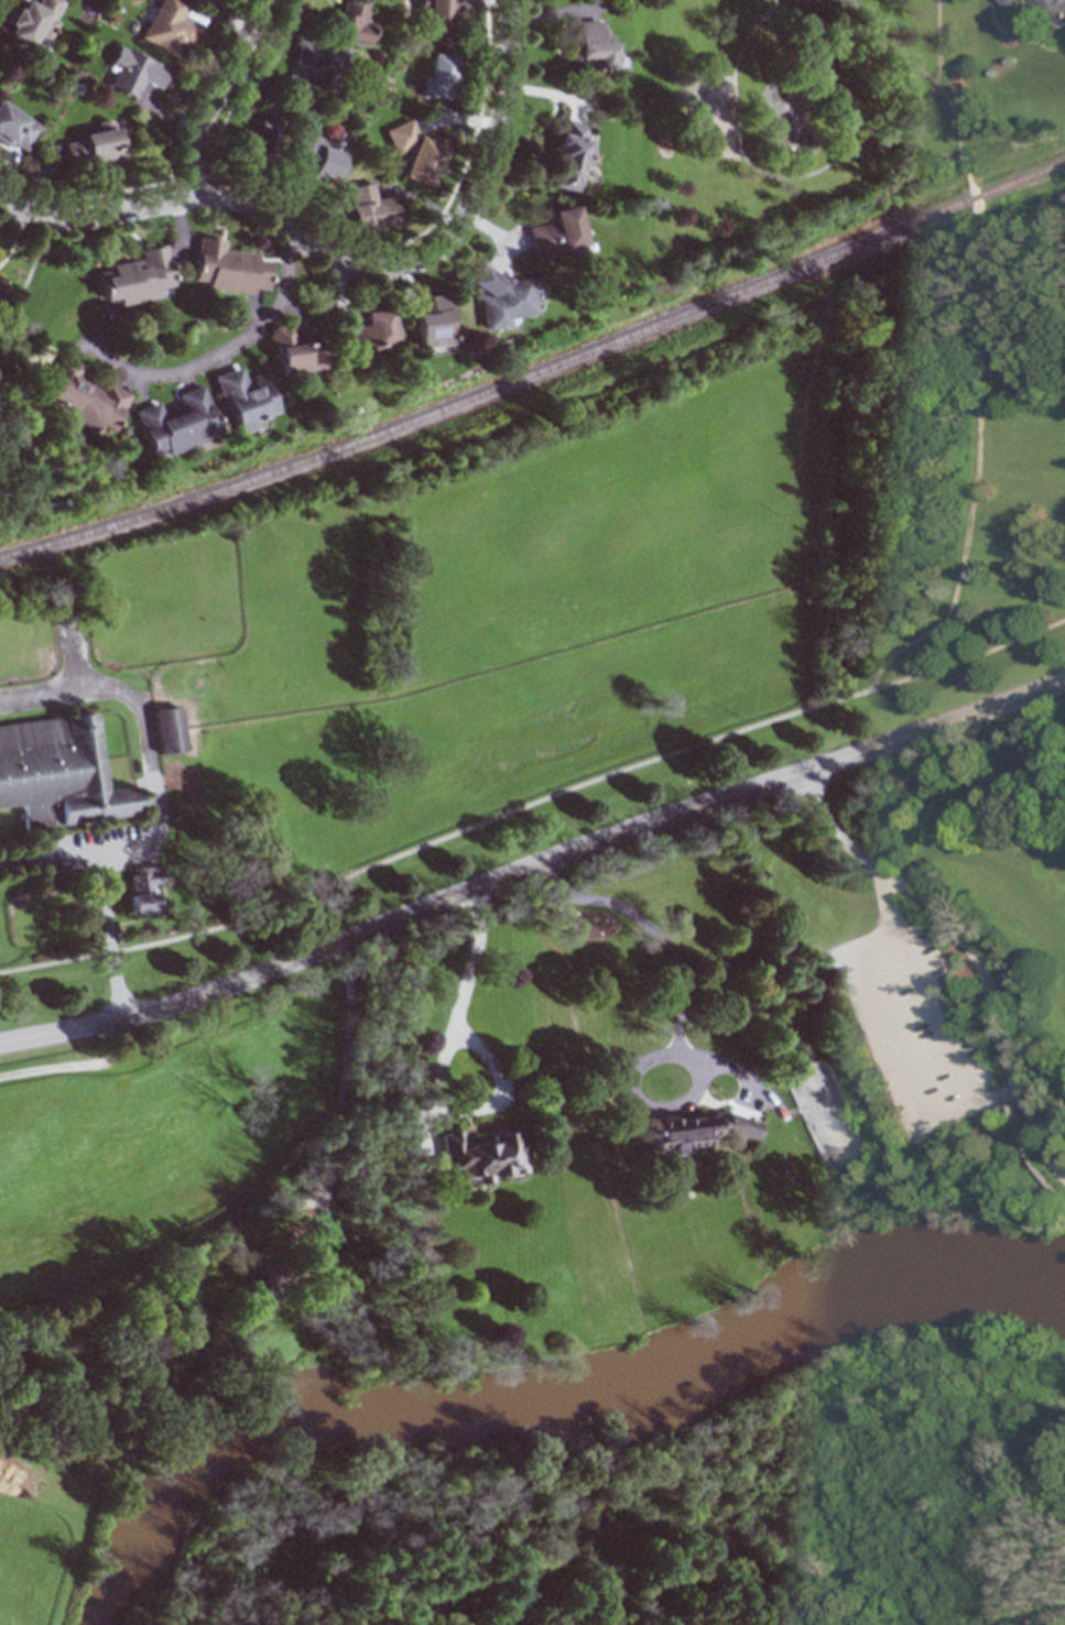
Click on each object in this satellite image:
building: (1048, 12)
building: (438, 18)
building: (33, 21)
building: (349, 22)
building: (171, 28)
building: (591, 45)
building: (320, 63)
building: (137, 72)
building: (441, 75)
road: (218, 96)
building: (17, 129)
building: (262, 134)
building: (96, 151)
building: (419, 155)
building: (570, 156)
building: (319, 157)
road: (818, 168)
building: (372, 207)
building: (558, 232)
road: (344, 263)
building: (228, 269)
building: (138, 279)
building: (1, 286)
building: (508, 297)
building: (435, 324)
building: (371, 331)
park: (890, 332)
road: (947, 339)
road: (222, 348)
building: (298, 353)
building: (84, 397)
building: (247, 399)
building: (178, 424)
building: (172, 730)
building: (59, 773)
road: (533, 803)
road: (533, 866)
building: (145, 892)
road: (970, 951)
road: (680, 1015)
road: (437, 1073)
road: (997, 1095)
road: (960, 1105)
building: (698, 1131)
building: (483, 1155)
crop: (175, 1243)
building: (269, 1274)
river: (563, 1406)

